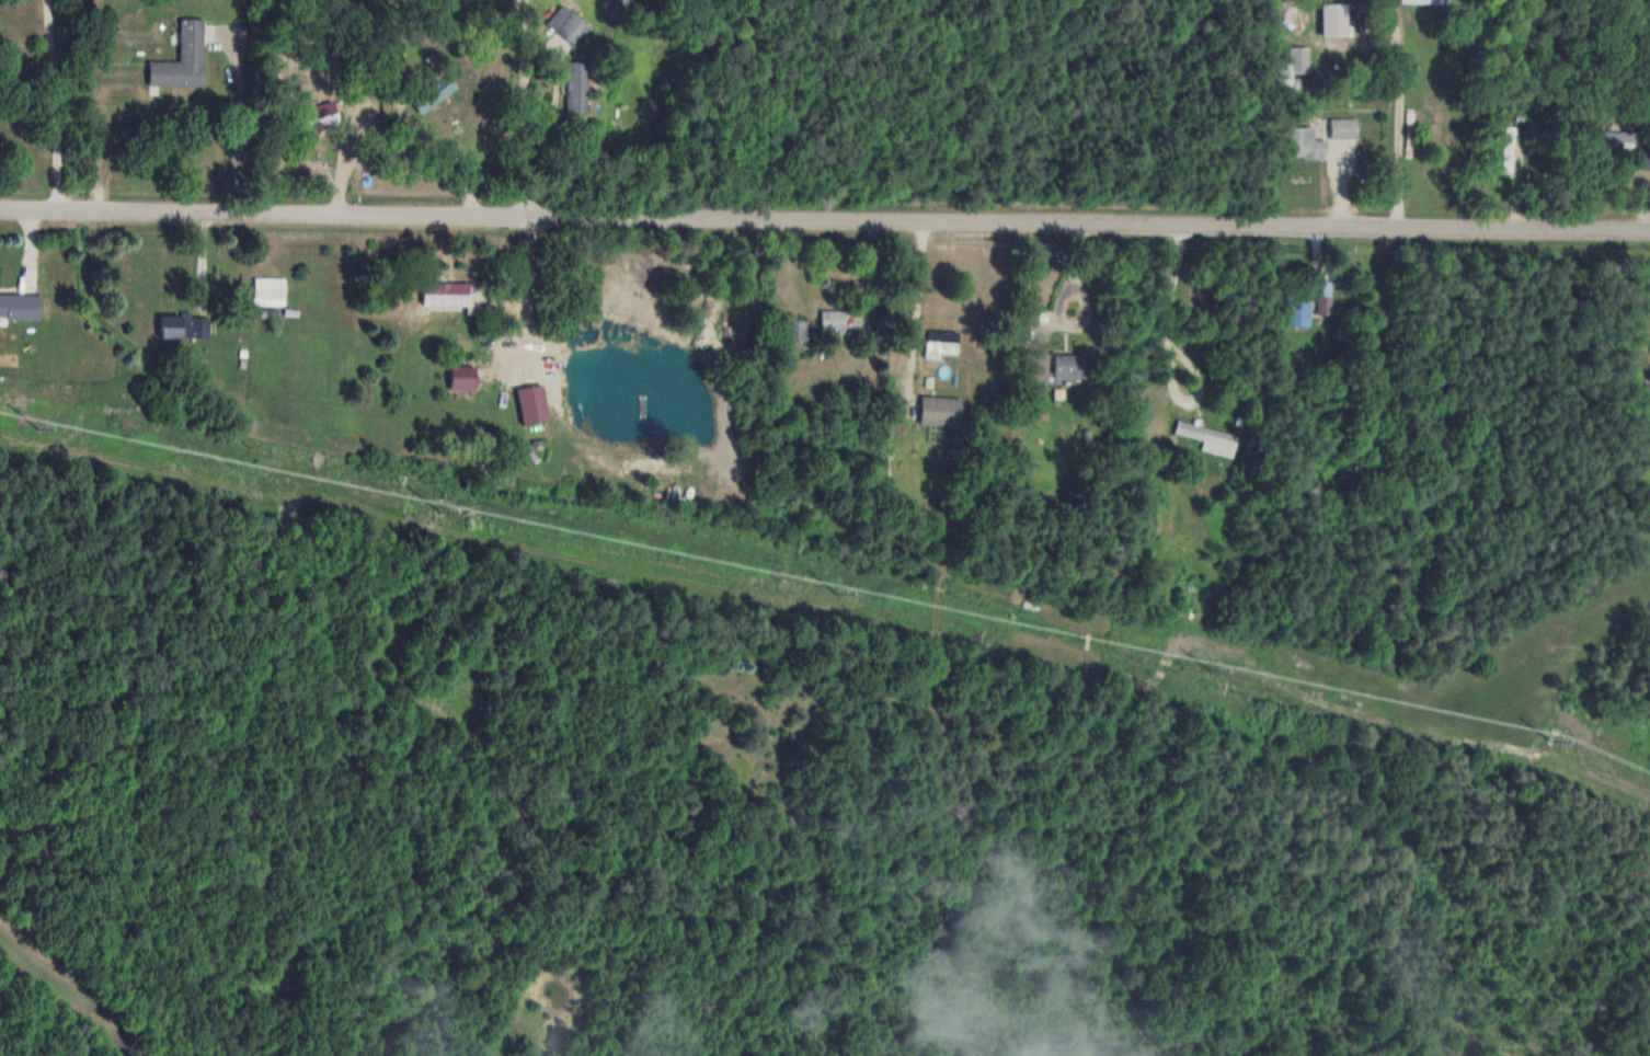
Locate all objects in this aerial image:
building: (1429, 1)
building: (574, 27)
building: (183, 58)
building: (578, 85)
building: (434, 91)
road: (45, 105)
road: (526, 108)
road: (1018, 113)
road: (1399, 115)
road: (237, 122)
building: (1344, 127)
building: (1616, 137)
building: (1305, 142)
road: (824, 223)
road: (523, 280)
building: (270, 290)
building: (445, 292)
building: (19, 305)
building: (1326, 306)
building: (1298, 307)
road: (1167, 310)
building: (834, 320)
building: (185, 325)
building: (798, 329)
building: (943, 342)
building: (1072, 367)
building: (462, 377)
building: (1648, 391)
building: (941, 410)
power tower: (42, 426)
building: (1213, 439)
building: (1044, 504)
power tower: (444, 510)
power tower: (844, 593)
power tower: (1216, 668)
power tower: (1554, 739)

